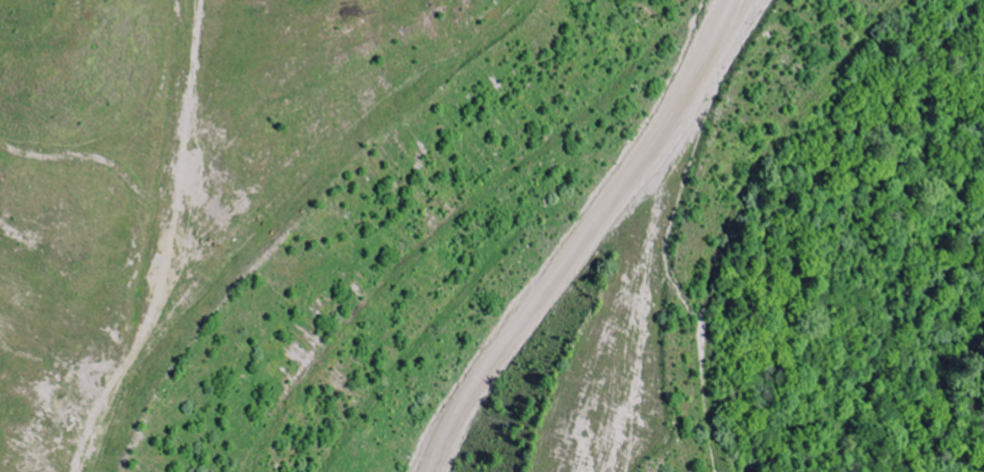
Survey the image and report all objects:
quarry: (492, 236)

